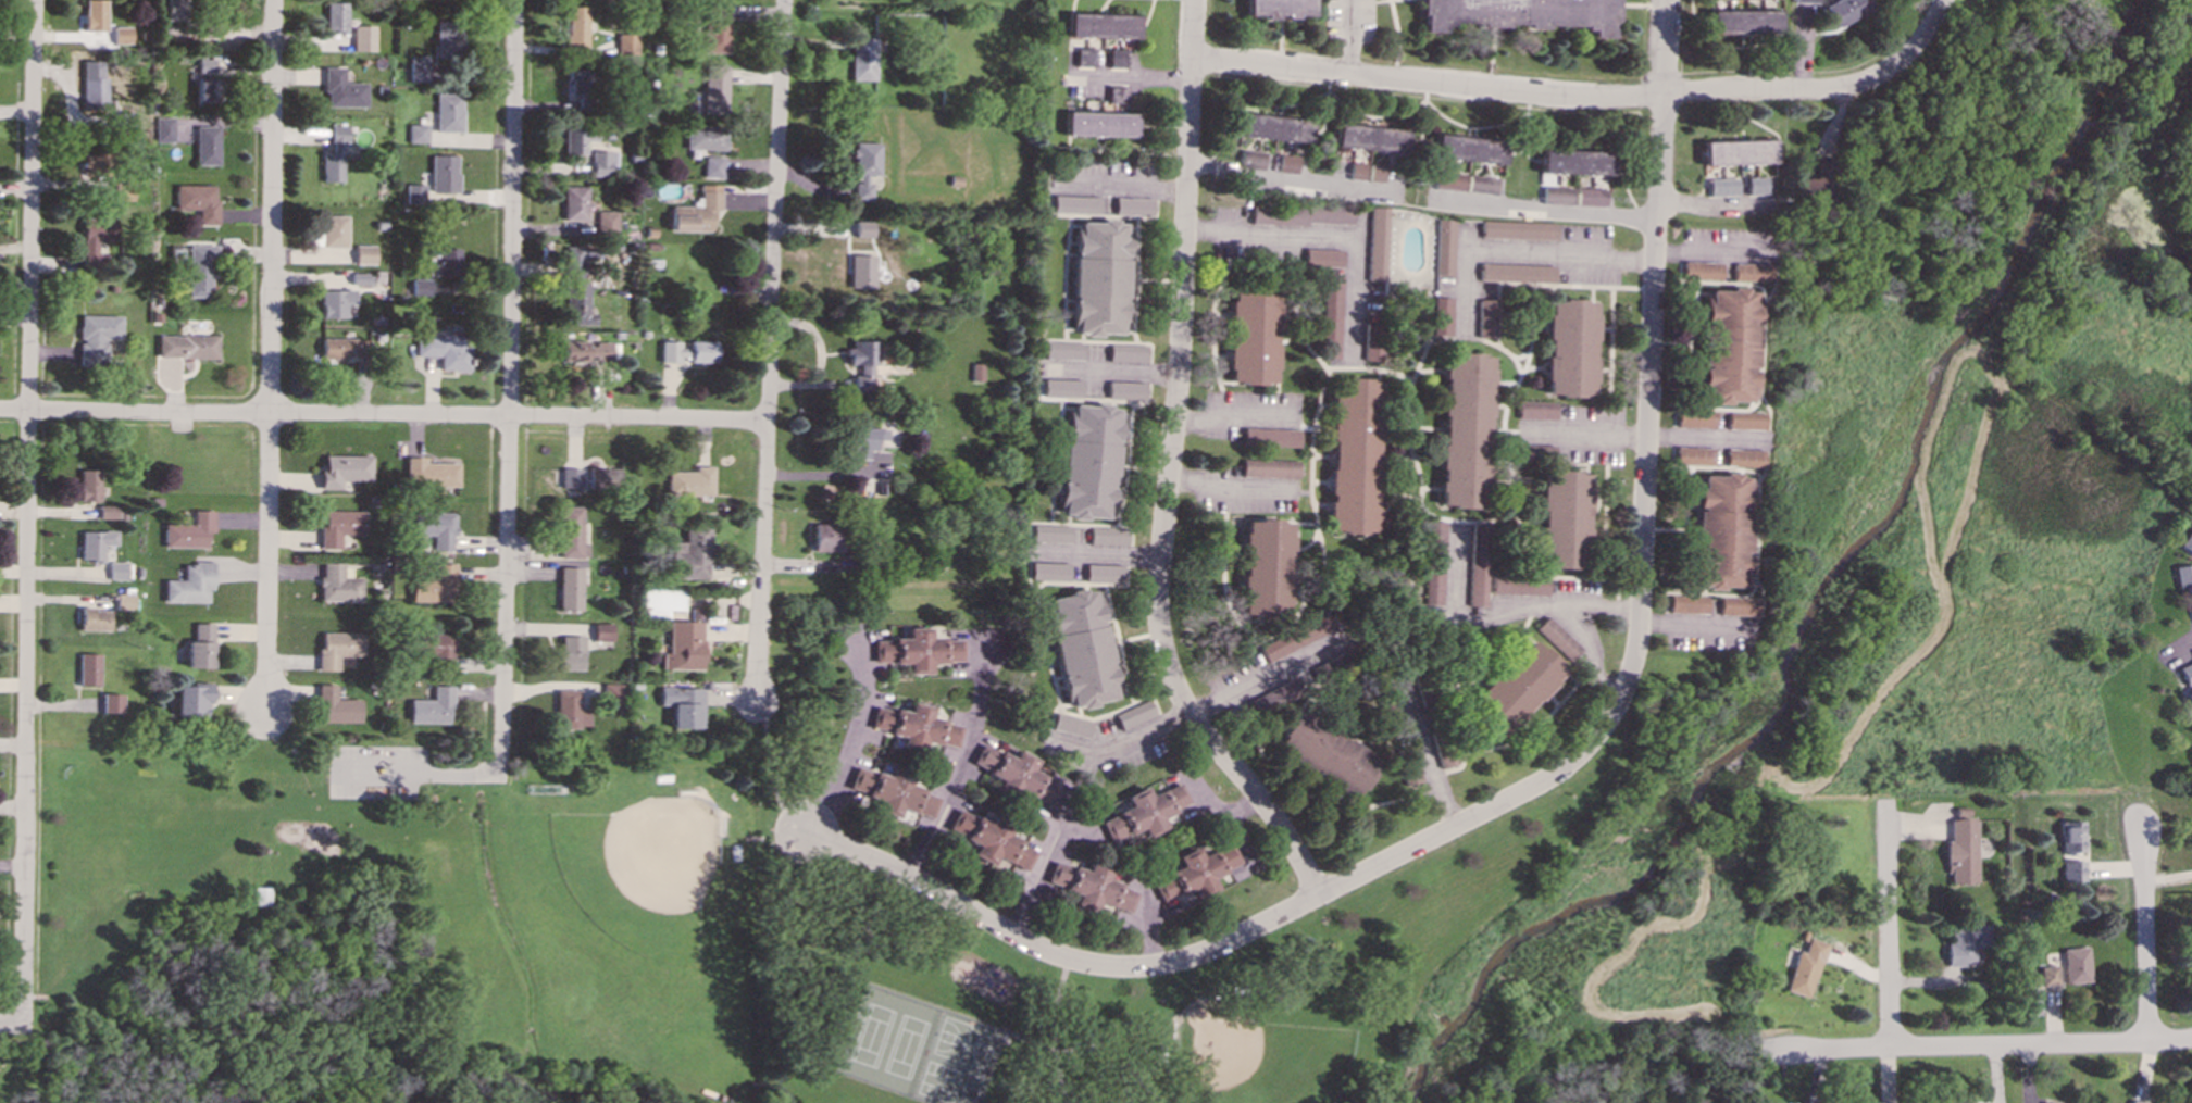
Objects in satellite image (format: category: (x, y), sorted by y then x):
building: (1806, 1)
road: (1369, 2)
building: (1287, 8)
building: (174, 10)
building: (1843, 10)
building: (1521, 13)
building: (94, 15)
building: (335, 15)
building: (1744, 21)
building: (1104, 25)
building: (576, 26)
building: (717, 28)
building: (121, 35)
road: (1353, 37)
road: (1925, 37)
building: (363, 38)
building: (449, 39)
road: (1399, 39)
building: (627, 43)
building: (1084, 57)
building: (1118, 58)
building: (862, 59)
building: (205, 66)
building: (418, 67)
road: (1134, 74)
building: (92, 85)
building: (578, 86)
building: (715, 88)
building: (341, 89)
building: (208, 90)
building: (1118, 91)
road: (1545, 96)
building: (448, 112)
building: (1100, 123)
building: (1275, 127)
building: (163, 128)
building: (418, 133)
building: (706, 137)
building: (1371, 137)
building: (576, 139)
building: (205, 145)
building: (1470, 148)
building: (1738, 151)
building: (335, 154)
building: (1251, 159)
building: (1575, 161)
building: (90, 162)
building: (600, 163)
building: (1288, 163)
building: (712, 166)
building: (865, 171)
building: (1357, 171)
building: (1377, 173)
road: (1295, 176)
building: (435, 178)
building: (1449, 180)
building: (1815, 181)
building: (1482, 184)
building: (1756, 185)
building: (1722, 186)
road: (1123, 187)
building: (1557, 193)
building: (2191, 195)
building: (1590, 197)
building: (198, 201)
building: (574, 203)
building: (1076, 203)
road: (1712, 204)
building: (1135, 205)
building: (697, 211)
road: (1554, 211)
building: (1304, 215)
building: (606, 223)
building: (864, 228)
building: (1518, 229)
building: (333, 230)
road: (1335, 237)
building: (95, 238)
building: (1377, 243)
building: (1445, 247)
road: (1709, 250)
road: (1517, 251)
building: (364, 253)
building: (1324, 256)
building: (446, 262)
building: (573, 262)
building: (1701, 270)
building: (200, 271)
building: (1751, 271)
building: (861, 272)
building: (1517, 272)
building: (1099, 277)
building: (361, 278)
road: (1544, 284)
building: (420, 287)
building: (335, 302)
building: (577, 302)
building: (1442, 315)
building: (1332, 316)
building: (1486, 317)
road: (1212, 324)
building: (1253, 333)
building: (96, 338)
building: (1372, 341)
building: (1727, 344)
building: (186, 346)
building: (342, 347)
road: (1309, 347)
road: (1498, 347)
building: (1569, 348)
building: (444, 350)
building: (1064, 350)
building: (586, 351)
building: (688, 351)
road: (271, 352)
road: (770, 352)
building: (860, 352)
building: (1129, 352)
road: (1521, 355)
building: (976, 372)
road: (1119, 372)
building: (864, 379)
building: (1062, 387)
building: (1129, 389)
building: (1535, 410)
road: (383, 415)
building: (1694, 417)
road: (1235, 418)
building: (1745, 419)
road: (1301, 427)
building: (1465, 430)
road: (1511, 430)
road: (1606, 433)
road: (1582, 434)
building: (1272, 437)
road: (1704, 438)
building: (865, 439)
building: (1534, 452)
building: (1354, 454)
building: (1693, 455)
building: (1744, 456)
building: (1089, 461)
road: (509, 464)
building: (1270, 467)
building: (342, 469)
road: (1170, 472)
building: (428, 473)
road: (824, 474)
building: (570, 477)
building: (603, 477)
road: (1514, 477)
building: (690, 481)
building: (89, 485)
road: (1233, 490)
road: (1305, 492)
road: (1420, 501)
road: (27, 507)
building: (107, 511)
building: (1561, 516)
road: (1316, 519)
road: (1469, 521)
building: (338, 526)
building: (435, 528)
building: (188, 530)
building: (571, 532)
road: (1642, 532)
building: (1051, 534)
building: (1109, 535)
building: (826, 536)
building: (2185, 542)
building: (95, 543)
building: (689, 553)
road: (1098, 554)
building: (1435, 563)
building: (1480, 563)
building: (1266, 567)
building: (117, 569)
building: (1050, 571)
building: (1106, 573)
building: (2183, 578)
building: (189, 584)
building: (336, 584)
building: (433, 585)
building: (1519, 585)
road: (1223, 587)
building: (570, 588)
building: (124, 601)
building: (661, 601)
building: (1686, 603)
building: (1738, 605)
building: (94, 619)
road: (1468, 622)
road: (1578, 622)
road: (1691, 624)
building: (602, 631)
building: (1295, 637)
building: (1557, 638)
building: (684, 645)
building: (199, 647)
building: (336, 648)
building: (437, 648)
building: (1082, 648)
building: (918, 650)
building: (571, 652)
road: (2181, 653)
building: (88, 668)
road: (1267, 673)
building: (1516, 686)
building: (2187, 686)
building: (612, 692)
building: (1274, 697)
building: (190, 700)
building: (111, 702)
building: (684, 705)
building: (336, 706)
building: (432, 706)
building: (571, 710)
building: (1135, 714)
building: (917, 725)
building: (1071, 725)
road: (1522, 736)
road: (852, 742)
road: (1123, 744)
building: (1324, 753)
road: (1427, 754)
road: (959, 763)
building: (1408, 765)
parking lot: (377, 770)
building: (1016, 773)
road: (772, 775)
building: (894, 791)
road: (1210, 794)
road: (1310, 795)
building: (1144, 812)
road: (1234, 823)
park: (133, 827)
building: (2071, 836)
building: (992, 840)
building: (1960, 849)
building: (1195, 870)
building: (2071, 870)
road: (1037, 877)
building: (1092, 887)
building: (261, 895)
road: (888, 905)
park: (645, 923)
road: (1150, 924)
road: (1888, 926)
road: (2145, 936)
building: (862, 940)
building: (1965, 943)
park: (805, 949)
road: (1059, 956)
building: (2075, 964)
building: (1804, 967)
building: (2047, 975)
road: (1047, 989)
road: (11, 1023)
road: (1058, 1031)
road: (1031, 1036)
park: (964, 1041)
park: (1253, 1042)
building: (1095, 1043)
road: (1990, 1046)
park: (905, 1051)
building: (2134, 1102)

